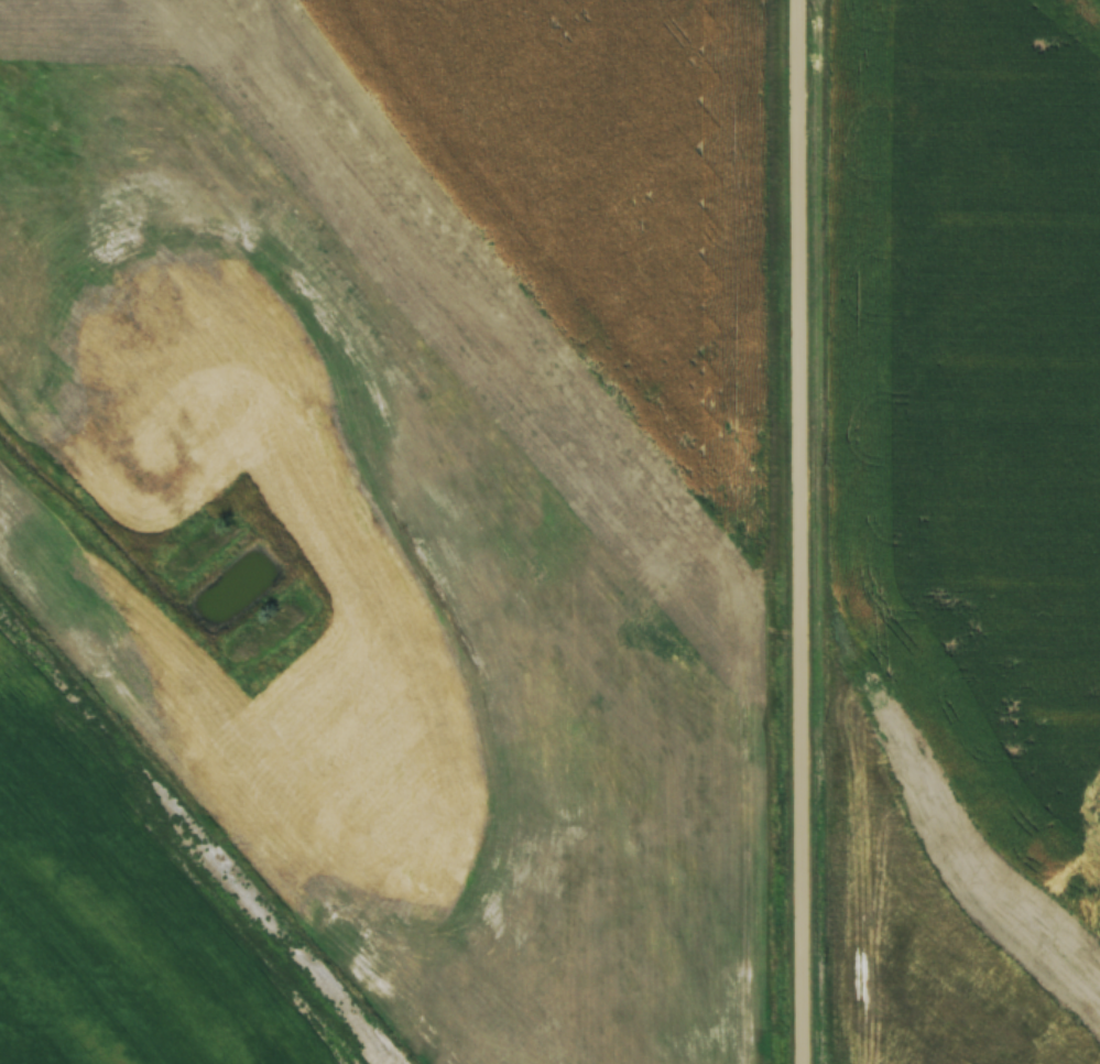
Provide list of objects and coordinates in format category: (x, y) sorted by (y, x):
road: (839, 532)

